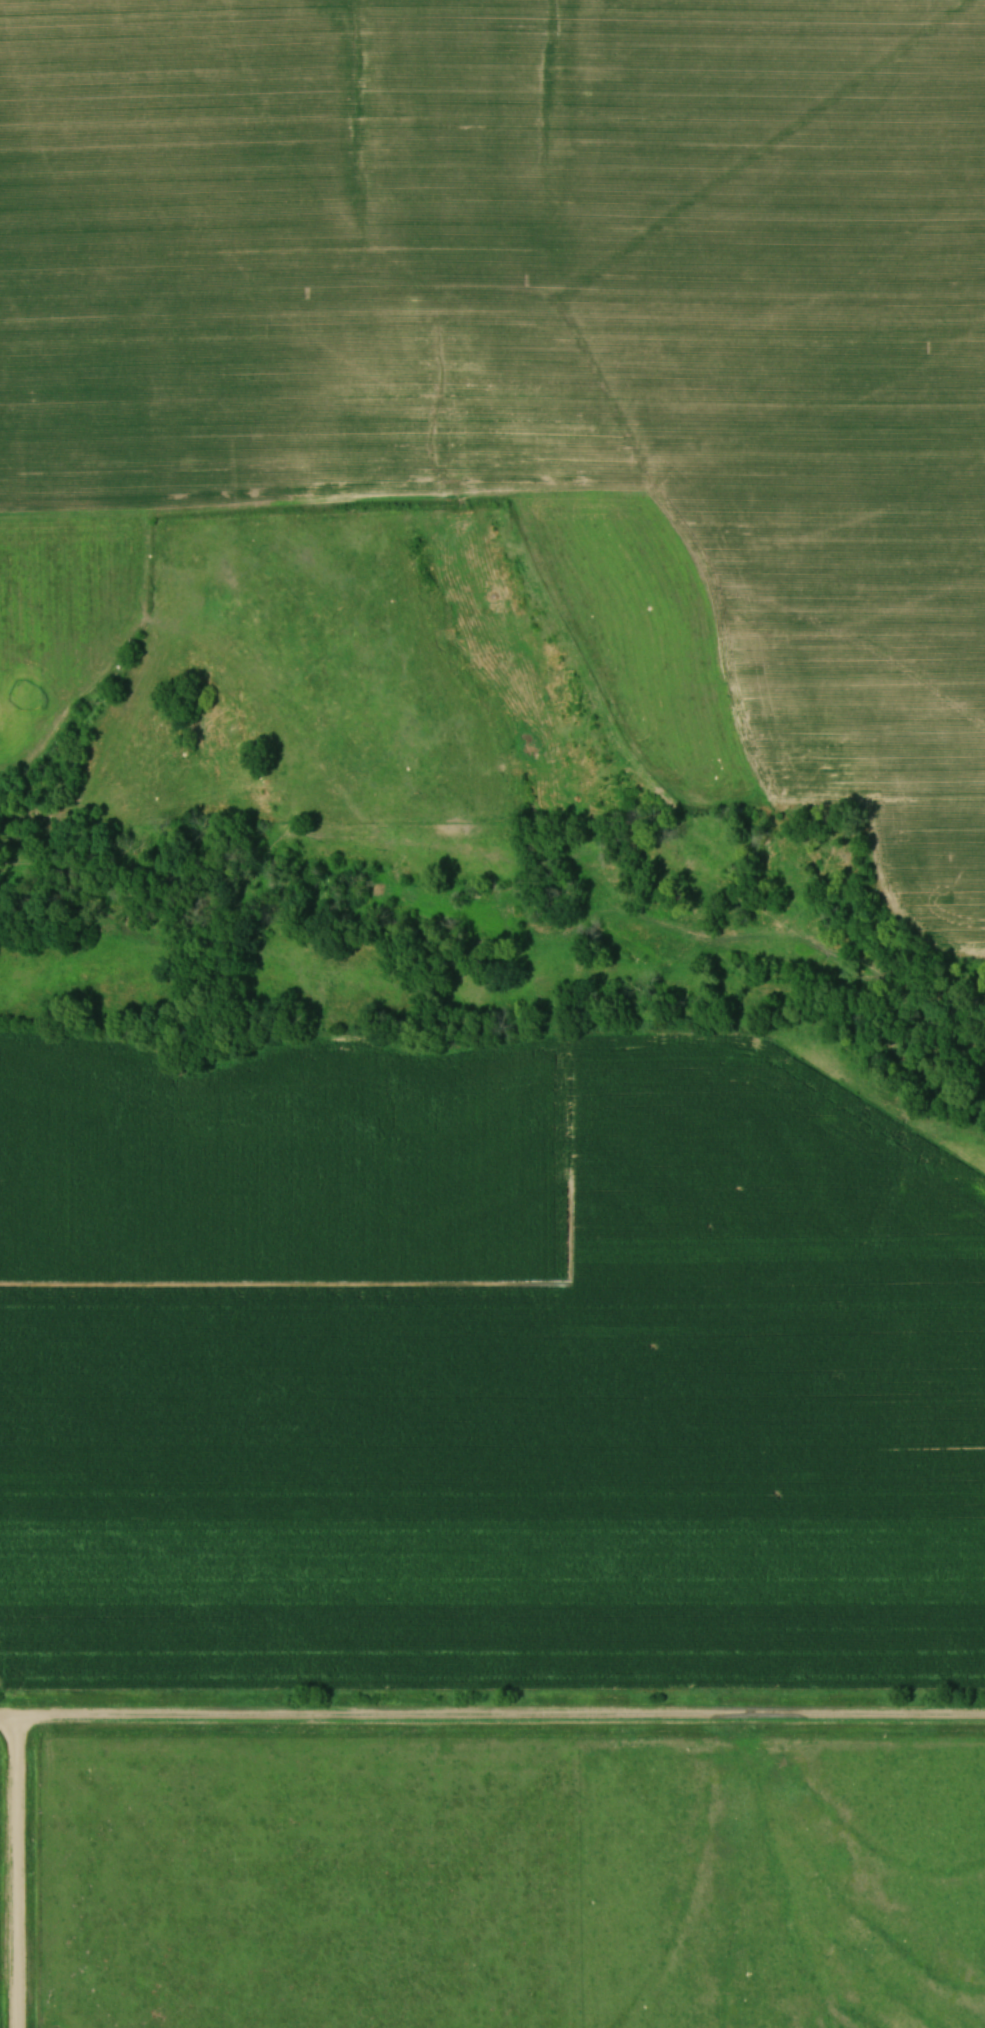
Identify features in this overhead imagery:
road: (492, 1720)
road: (12, 1874)

